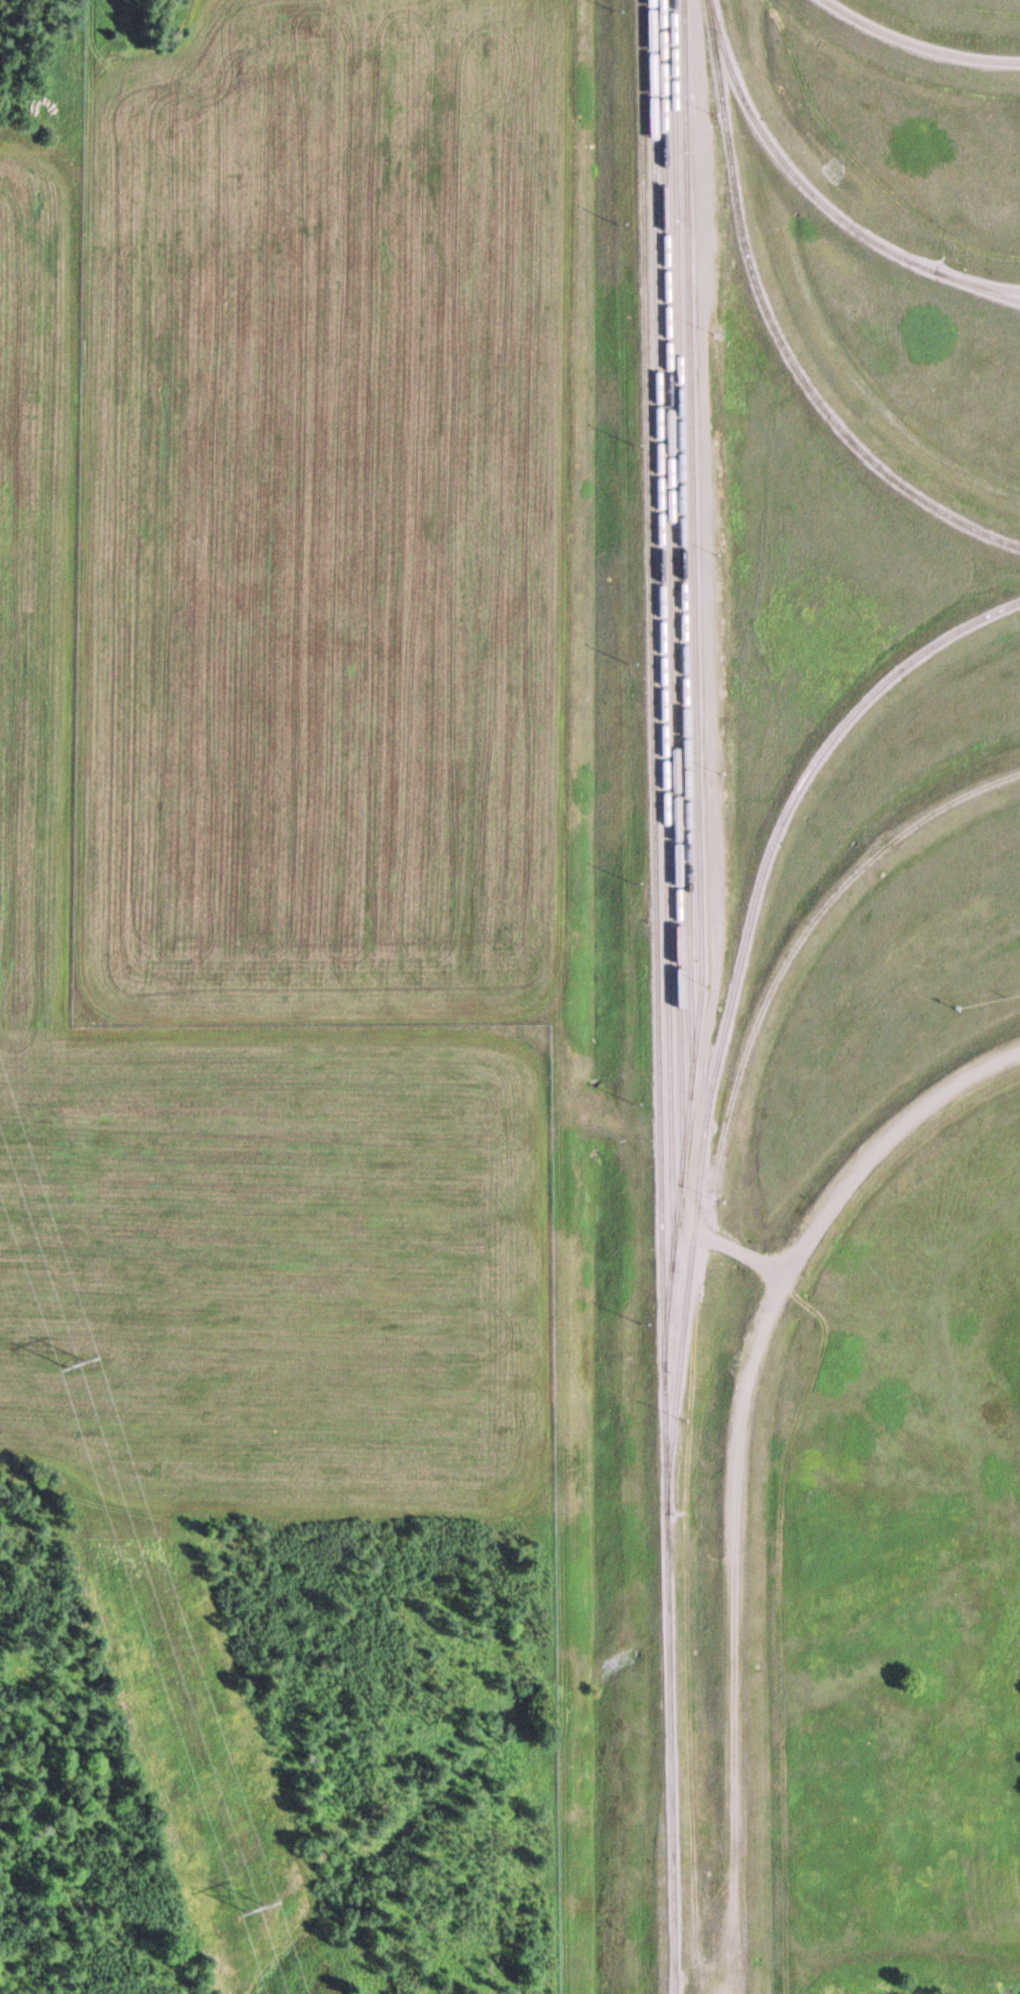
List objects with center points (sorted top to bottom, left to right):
railway: (918, 44)
railway: (817, 196)
railway: (979, 288)
railway: (774, 328)
railway: (681, 540)
railway: (671, 578)
railway: (662, 622)
railway: (696, 666)
railway: (733, 986)
railway: (657, 997)
power tower: (74, 1365)
road: (737, 1454)
power tower: (257, 1911)

